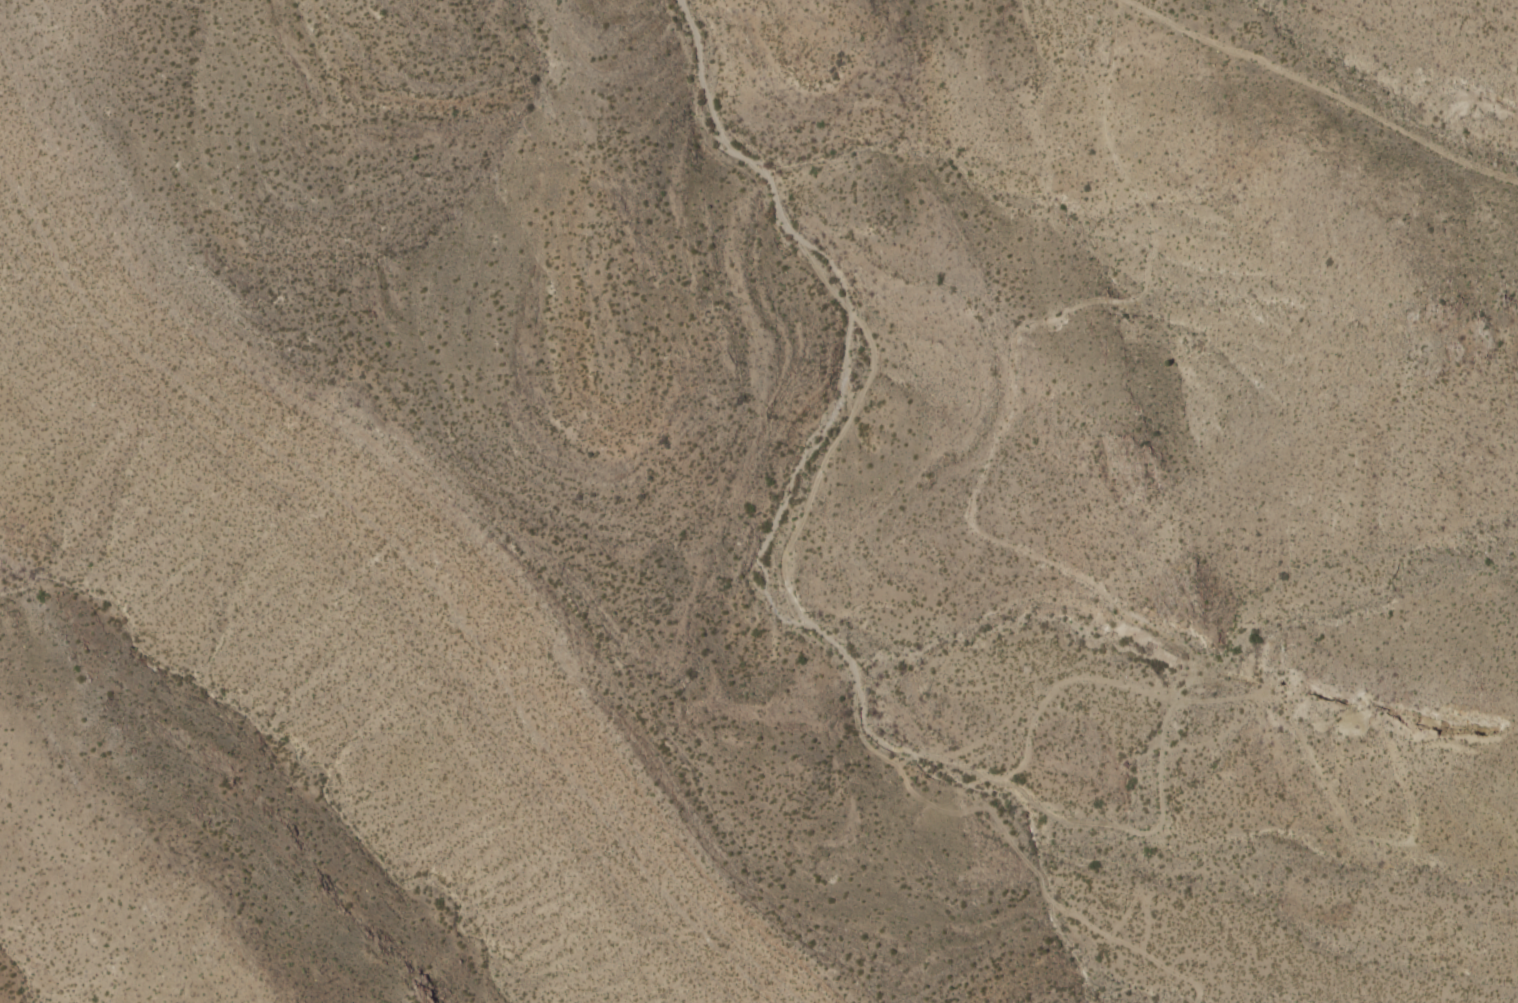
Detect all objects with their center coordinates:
road: (785, 571)

